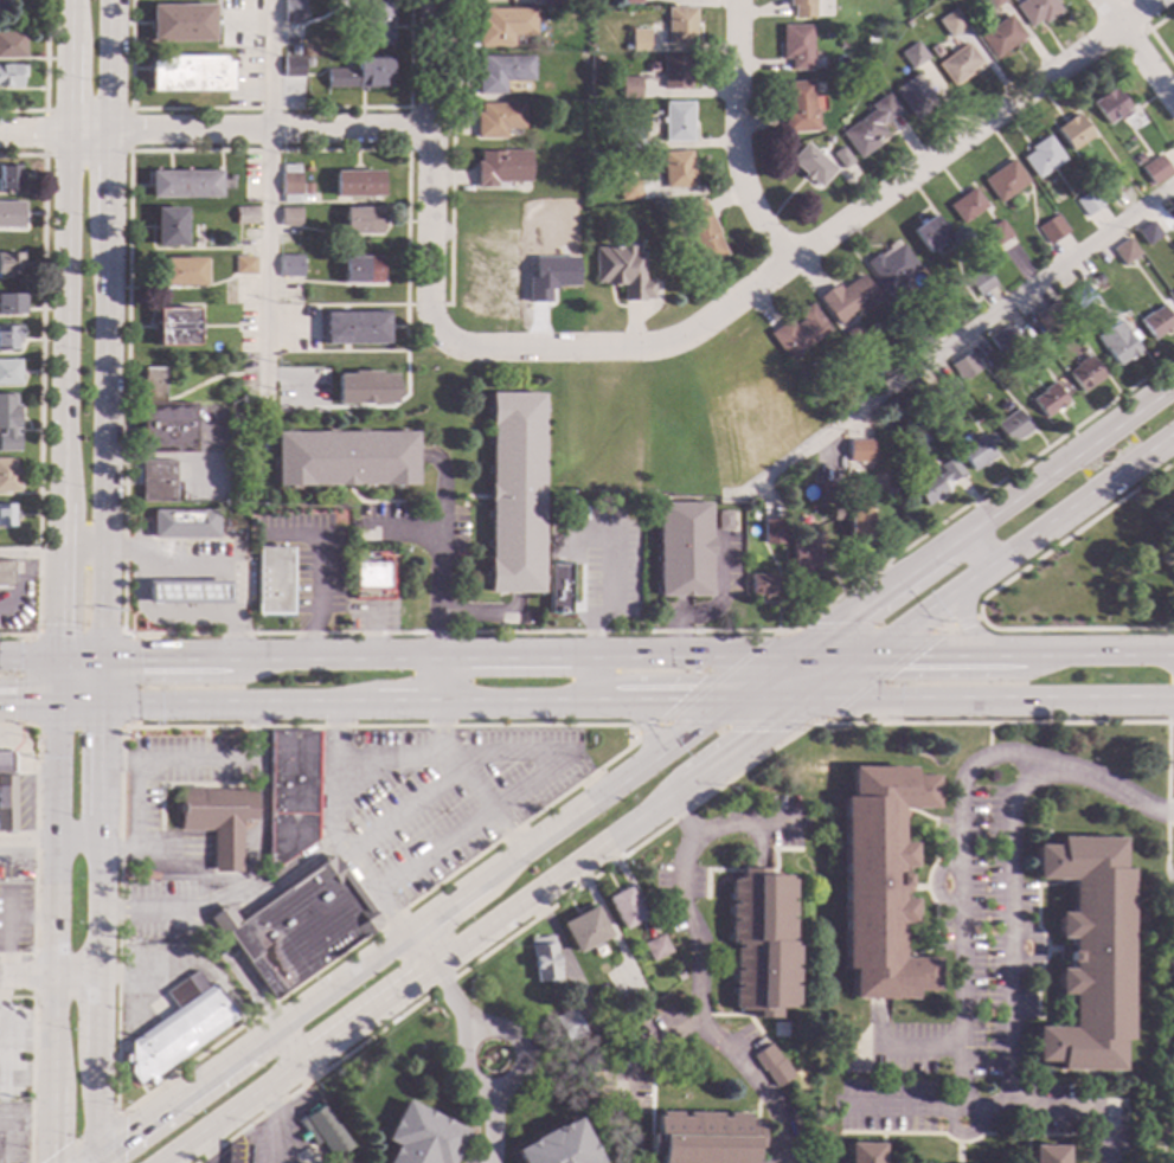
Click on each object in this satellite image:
building: (487, 0)
building: (552, 1)
building: (630, 1)
building: (993, 2)
building: (1, 7)
building: (802, 7)
building: (291, 11)
building: (1035, 11)
building: (547, 13)
road: (1136, 13)
building: (180, 23)
building: (374, 23)
building: (950, 23)
building: (502, 25)
building: (680, 26)
road: (1150, 33)
building: (1000, 37)
building: (639, 39)
building: (11, 45)
building: (796, 45)
road: (1136, 51)
building: (912, 54)
building: (957, 63)
road: (108, 65)
building: (291, 66)
building: (676, 71)
building: (501, 72)
building: (188, 73)
building: (9, 75)
building: (359, 75)
road: (43, 76)
building: (629, 88)
building: (913, 96)
building: (1109, 105)
road: (267, 107)
building: (797, 107)
building: (496, 120)
building: (676, 121)
road: (406, 127)
building: (868, 127)
road: (129, 129)
road: (213, 129)
road: (43, 131)
building: (1072, 131)
road: (736, 136)
building: (629, 140)
road: (449, 152)
building: (1041, 156)
building: (841, 158)
building: (1137, 158)
building: (810, 165)
building: (501, 167)
building: (676, 169)
road: (428, 171)
road: (107, 175)
building: (1154, 176)
building: (9, 178)
building: (230, 178)
building: (1003, 180)
building: (182, 184)
building: (289, 184)
building: (355, 184)
building: (306, 186)
building: (627, 189)
building: (1086, 203)
road: (265, 204)
building: (965, 205)
building: (660, 207)
building: (11, 213)
building: (244, 214)
building: (289, 216)
building: (361, 220)
building: (168, 226)
building: (1053, 226)
building: (703, 232)
building: (996, 232)
building: (1147, 232)
building: (929, 233)
road: (819, 237)
building: (1173, 237)
building: (1124, 251)
building: (9, 263)
building: (244, 264)
building: (290, 265)
building: (891, 266)
building: (360, 269)
building: (180, 271)
building: (622, 271)
building: (1095, 279)
building: (981, 282)
building: (693, 287)
building: (1076, 297)
building: (848, 298)
building: (11, 303)
road: (425, 303)
building: (1050, 316)
building: (1155, 322)
building: (174, 326)
building: (354, 327)
road: (64, 328)
building: (797, 332)
building: (926, 332)
building: (8, 338)
building: (1002, 340)
building: (1117, 342)
road: (947, 346)
building: (988, 362)
building: (1006, 365)
building: (964, 366)
building: (8, 371)
building: (877, 371)
building: (1084, 372)
building: (364, 387)
building: (952, 388)
road: (39, 390)
building: (1047, 399)
building: (161, 417)
building: (8, 423)
building: (1011, 426)
road: (102, 438)
building: (976, 450)
building: (857, 452)
building: (344, 458)
building: (8, 475)
building: (156, 481)
building: (935, 481)
building: (513, 491)
building: (829, 493)
road: (466, 495)
road: (367, 501)
road: (450, 509)
building: (6, 514)
building: (835, 514)
building: (721, 519)
building: (857, 520)
road: (979, 521)
parking lot: (379, 523)
building: (180, 525)
building: (229, 528)
road: (400, 528)
road: (580, 529)
building: (772, 532)
road: (1070, 533)
parking lot: (444, 534)
road: (1021, 546)
road: (441, 547)
building: (1170, 547)
building: (681, 548)
road: (979, 550)
road: (126, 551)
road: (50, 555)
building: (803, 555)
parking lot: (308, 559)
parking lot: (596, 559)
parking lot: (723, 563)
road: (161, 566)
road: (316, 567)
building: (6, 573)
building: (368, 576)
building: (272, 583)
building: (762, 585)
road: (19, 586)
building: (558, 587)
building: (184, 593)
road: (679, 608)
road: (710, 608)
road: (489, 616)
road: (131, 618)
road: (958, 623)
traffic signals: (57, 625)
road: (1074, 628)
road: (935, 630)
road: (78, 634)
road: (211, 634)
road: (973, 636)
road: (47, 657)
traffic signals: (140, 657)
road: (441, 657)
road: (1021, 658)
road: (827, 660)
road: (23, 679)
road: (134, 681)
road: (589, 681)
road: (756, 681)
road: (950, 698)
road: (364, 707)
traffic signals: (13, 713)
road: (639, 714)
road: (665, 721)
road: (1170, 722)
road: (78, 728)
road: (643, 731)
traffic signals: (98, 735)
road: (988, 740)
road: (556, 757)
road: (205, 758)
road: (204, 762)
road: (456, 764)
parking lot: (175, 775)
road: (317, 785)
road: (172, 786)
road: (714, 789)
building: (5, 792)
building: (289, 793)
parking lot: (448, 798)
road: (404, 812)
road: (679, 820)
building: (218, 821)
road: (135, 825)
road: (334, 835)
road: (33, 838)
road: (26, 846)
road: (75, 846)
road: (325, 849)
road: (238, 853)
road: (347, 865)
road: (963, 882)
building: (879, 884)
road: (271, 888)
road: (352, 894)
road: (428, 894)
road: (96, 904)
parking lot: (154, 908)
road: (517, 908)
building: (623, 908)
road: (53, 910)
road: (143, 912)
road: (31, 915)
parking lot: (14, 918)
building: (297, 927)
road: (1009, 927)
building: (584, 931)
road: (415, 932)
road: (8, 933)
building: (758, 943)
building: (655, 949)
building: (1088, 955)
building: (544, 959)
road: (695, 959)
road: (195, 966)
road: (232, 971)
road: (32, 976)
road: (47, 977)
building: (679, 977)
road: (442, 984)
parking lot: (143, 1009)
building: (569, 1027)
road: (1, 1030)
road: (28, 1030)
building: (177, 1030)
road: (293, 1043)
road: (657, 1043)
road: (912, 1046)
road: (462, 1061)
park: (1172, 1064)
road: (32, 1065)
building: (771, 1066)
road: (1, 1069)
road: (27, 1074)
road: (1054, 1112)
road: (280, 1125)
road: (488, 1125)
road: (105, 1127)
traffic signals: (123, 1132)
building: (326, 1132)
parking lot: (13, 1133)
building: (422, 1137)
building: (703, 1138)
road: (212, 1146)
building: (557, 1146)
building: (862, 1154)
building: (1044, 1154)
traffic signals: (52, 1155)
road: (86, 1157)
road: (94, 1157)

